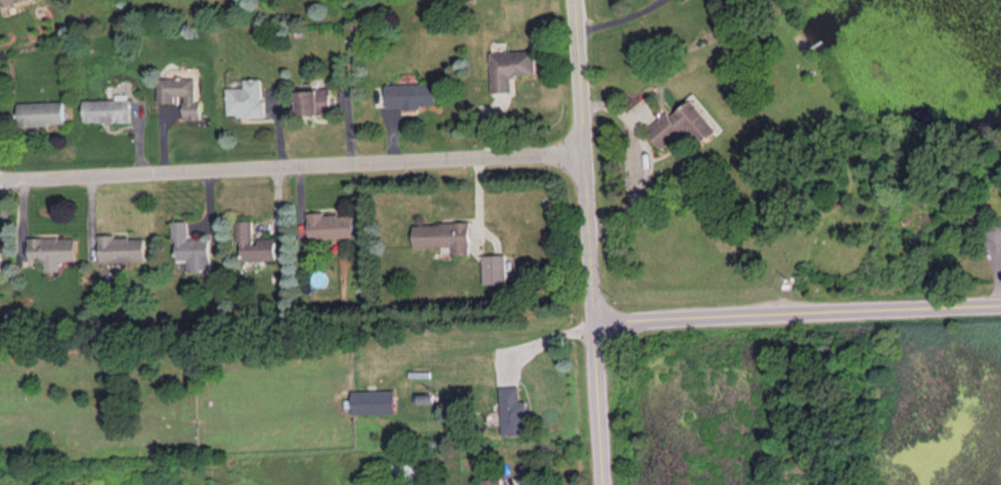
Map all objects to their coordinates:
building: (9, 1)
road: (618, 21)
building: (511, 67)
building: (181, 94)
building: (412, 94)
building: (246, 98)
building: (315, 100)
building: (107, 109)
building: (41, 112)
building: (682, 124)
road: (647, 156)
road: (292, 162)
road: (585, 163)
building: (331, 224)
building: (444, 235)
building: (254, 242)
building: (122, 247)
building: (191, 247)
building: (52, 250)
building: (495, 268)
road: (799, 316)
road: (545, 339)
building: (374, 401)
road: (601, 405)
building: (513, 411)
building: (499, 484)

